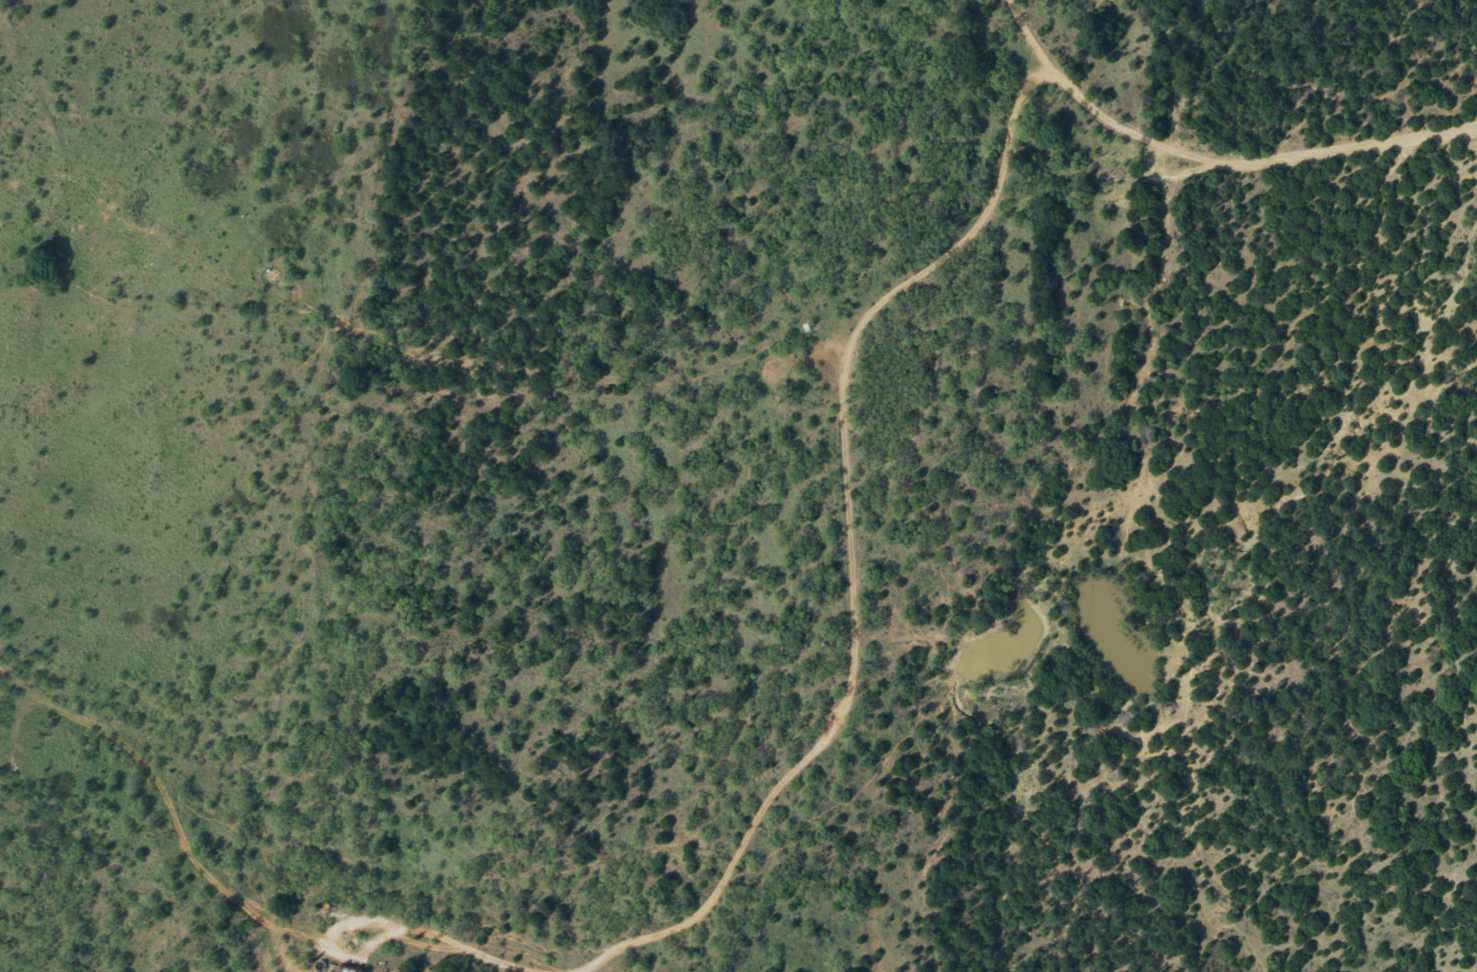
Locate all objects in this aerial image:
road: (1217, 156)

